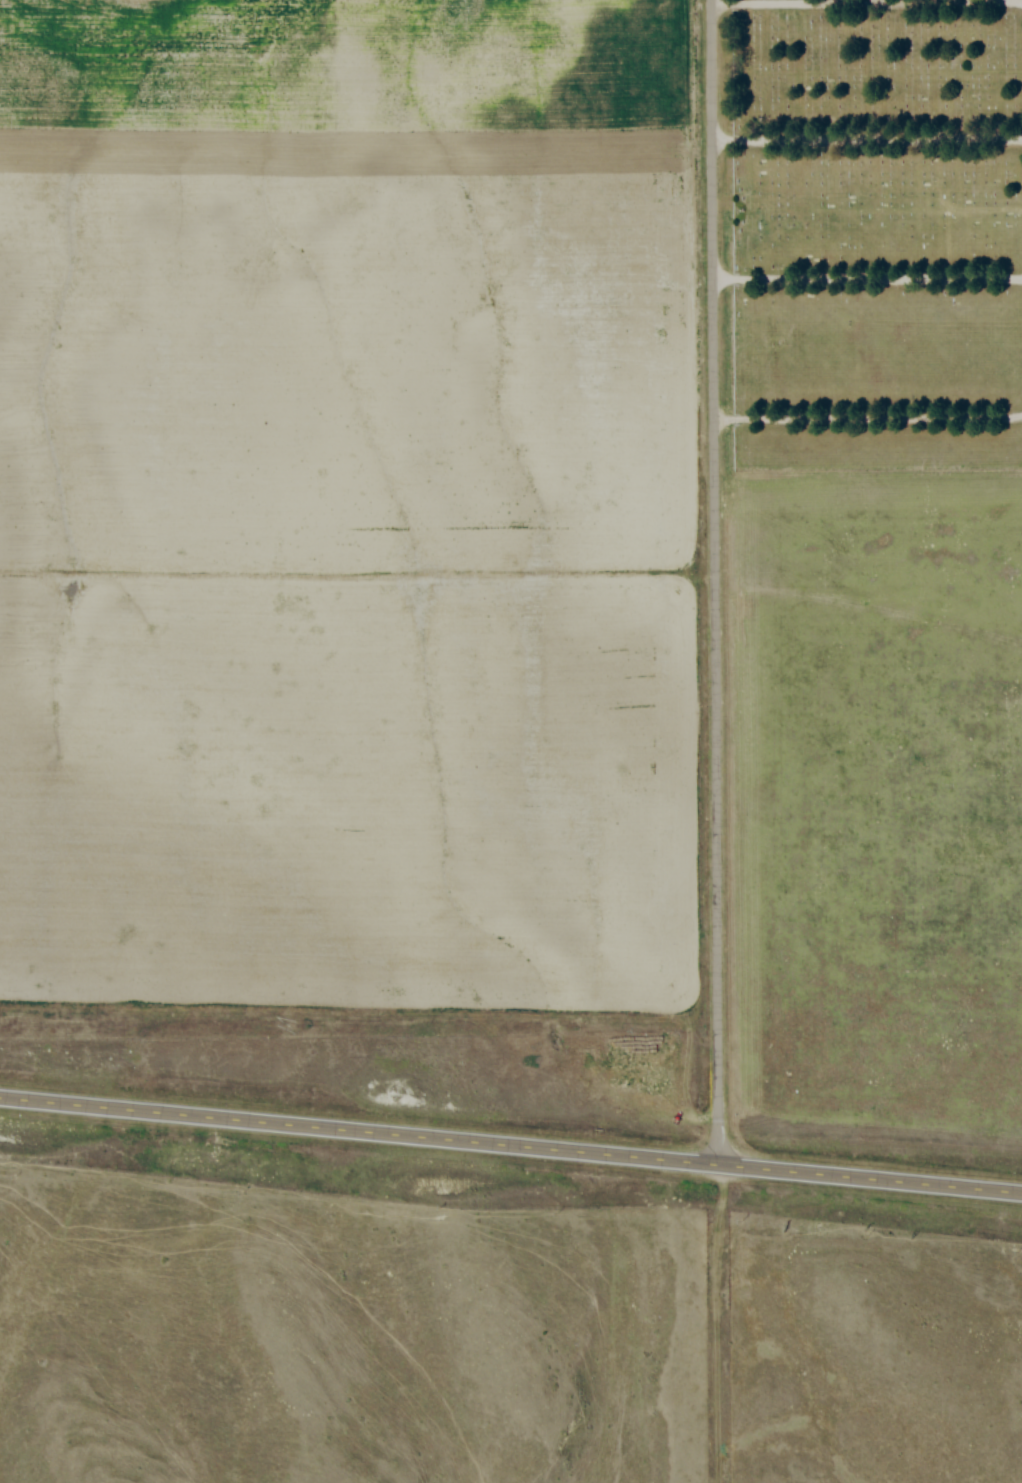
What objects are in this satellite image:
road: (867, 0)
road: (868, 133)
road: (869, 278)
road: (869, 419)
crop: (350, 502)
road: (716, 584)
crop: (879, 856)
road: (510, 1148)

